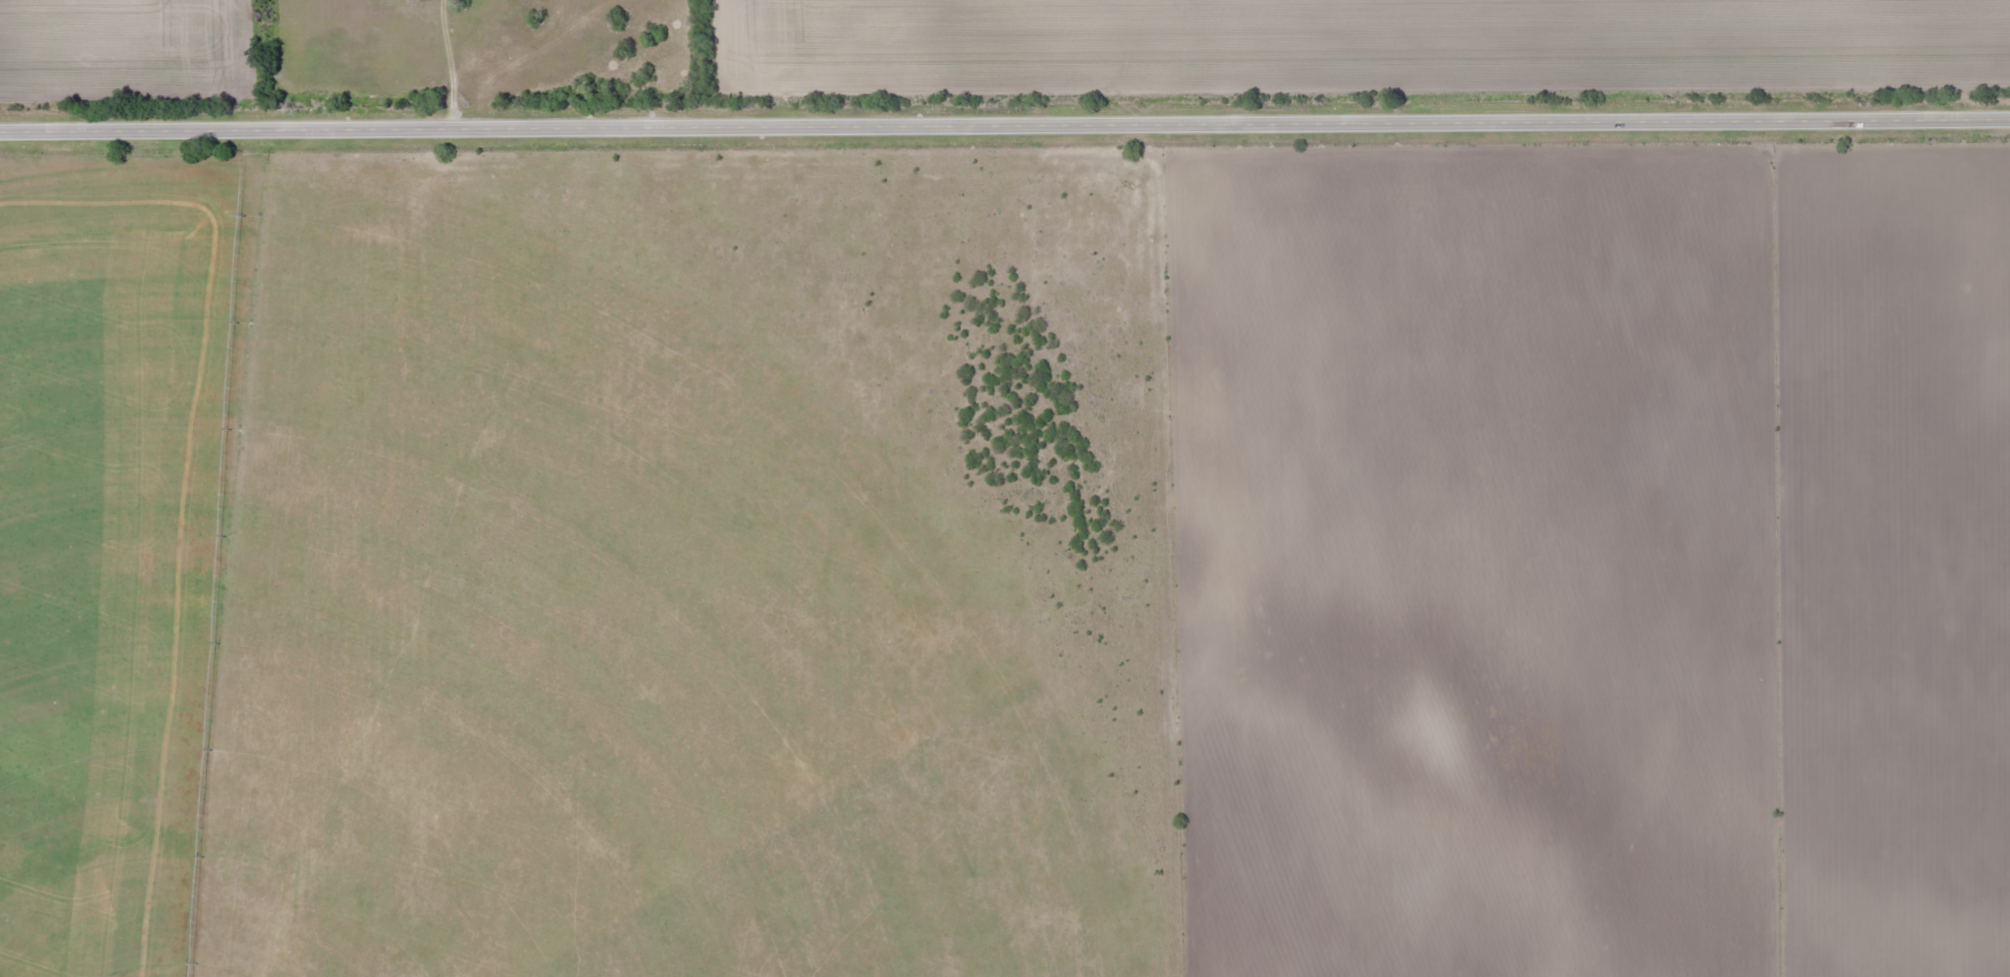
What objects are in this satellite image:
road: (1005, 124)

